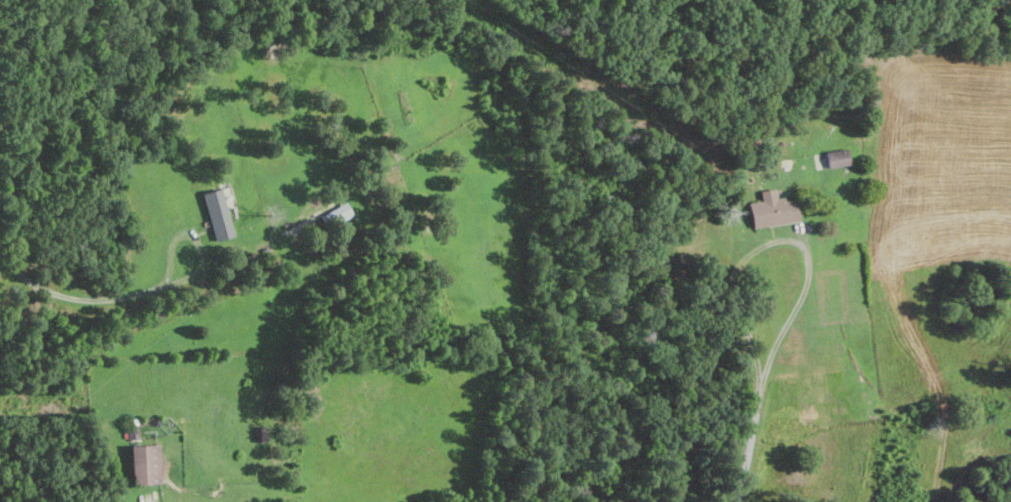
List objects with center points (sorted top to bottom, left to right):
building: (838, 158)
building: (775, 210)
building: (219, 215)
building: (337, 215)
road: (195, 237)
road: (779, 242)
road: (75, 297)
road: (749, 442)
building: (146, 465)

